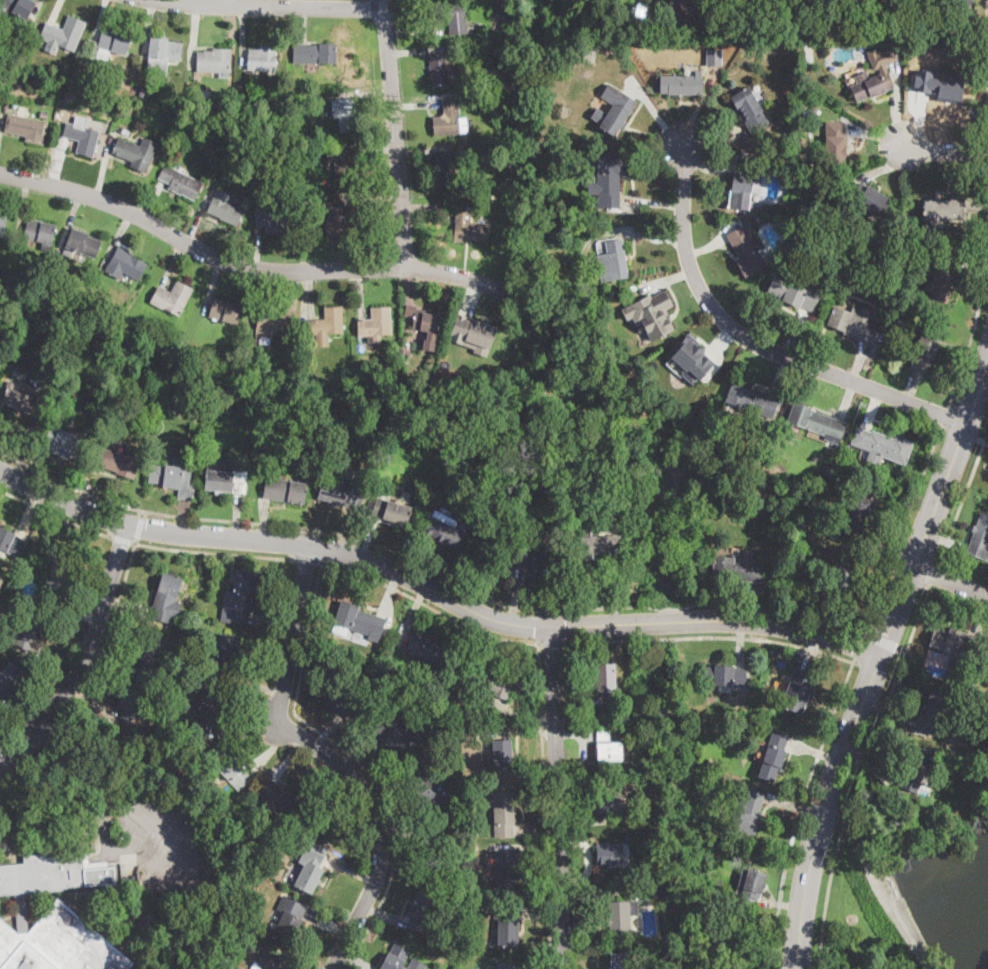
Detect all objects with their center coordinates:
building: (608, 0)
road: (182, 1)
building: (834, 1)
road: (233, 2)
building: (691, 2)
building: (948, 2)
road: (270, 4)
building: (17, 7)
building: (919, 7)
road: (36, 11)
road: (55, 11)
building: (453, 17)
road: (100, 22)
road: (303, 24)
building: (929, 27)
road: (149, 28)
building: (549, 30)
building: (718, 33)
road: (193, 34)
road: (416, 34)
building: (63, 35)
building: (906, 35)
road: (242, 37)
building: (112, 43)
building: (576, 45)
building: (592, 46)
road: (416, 50)
building: (314, 53)
building: (163, 56)
building: (263, 58)
building: (714, 58)
building: (214, 61)
building: (63, 67)
building: (441, 68)
building: (873, 76)
building: (682, 84)
building: (942, 86)
building: (142, 91)
building: (202, 95)
road: (375, 102)
building: (5, 103)
road: (895, 103)
road: (416, 105)
road: (699, 107)
building: (750, 110)
building: (44, 113)
building: (346, 114)
building: (618, 114)
road: (657, 116)
building: (448, 119)
road: (914, 119)
road: (2, 120)
building: (272, 122)
building: (27, 128)
building: (126, 132)
road: (394, 134)
building: (81, 136)
road: (877, 136)
road: (713, 141)
building: (834, 145)
road: (428, 146)
building: (498, 147)
road: (946, 149)
building: (289, 150)
road: (62, 151)
road: (378, 151)
building: (136, 153)
road: (105, 164)
building: (343, 164)
road: (702, 165)
road: (884, 167)
building: (445, 170)
building: (609, 180)
building: (181, 182)
building: (743, 183)
building: (339, 196)
building: (870, 199)
road: (375, 200)
road: (152, 201)
road: (653, 203)
road: (21, 206)
road: (978, 207)
building: (225, 208)
building: (944, 209)
road: (431, 210)
building: (300, 215)
road: (72, 218)
building: (273, 220)
road: (196, 222)
building: (2, 223)
building: (343, 223)
building: (469, 229)
building: (40, 232)
road: (119, 234)
road: (643, 234)
building: (83, 242)
road: (706, 247)
road: (258, 248)
building: (745, 250)
building: (613, 261)
building: (125, 264)
road: (176, 264)
road: (245, 265)
road: (973, 269)
road: (668, 279)
building: (942, 280)
road: (212, 285)
building: (54, 288)
road: (311, 291)
road: (360, 293)
building: (794, 293)
road: (407, 295)
road: (471, 295)
building: (172, 297)
road: (258, 297)
building: (225, 310)
building: (652, 312)
road: (975, 320)
building: (328, 322)
building: (376, 322)
building: (272, 323)
building: (426, 323)
building: (854, 323)
building: (113, 327)
building: (473, 331)
building: (120, 332)
road: (796, 333)
road: (754, 343)
building: (925, 346)
building: (390, 352)
road: (718, 353)
building: (691, 356)
road: (859, 363)
building: (230, 374)
road: (781, 375)
building: (424, 379)
building: (69, 384)
road: (912, 386)
building: (176, 396)
road: (847, 398)
building: (20, 399)
building: (752, 401)
road: (872, 408)
road: (946, 415)
building: (816, 423)
road: (975, 436)
building: (309, 439)
building: (64, 444)
building: (882, 446)
road: (16, 454)
building: (118, 462)
road: (38, 467)
building: (173, 476)
building: (225, 481)
road: (85, 484)
building: (285, 490)
building: (341, 492)
road: (961, 498)
road: (29, 510)
building: (397, 512)
road: (143, 514)
road: (55, 516)
road: (184, 516)
road: (237, 516)
building: (856, 518)
road: (263, 520)
road: (139, 528)
road: (346, 529)
road: (902, 529)
building: (443, 531)
road: (369, 536)
building: (980, 539)
road: (944, 540)
road: (123, 541)
building: (11, 542)
road: (135, 542)
building: (592, 543)
road: (891, 548)
building: (481, 553)
building: (535, 559)
road: (309, 561)
road: (129, 562)
building: (738, 567)
road: (429, 570)
road: (444, 573)
building: (59, 574)
road: (933, 575)
road: (951, 580)
building: (836, 583)
road: (614, 586)
road: (434, 589)
road: (389, 590)
road: (516, 597)
building: (167, 598)
building: (240, 598)
road: (82, 602)
road: (130, 603)
road: (756, 604)
road: (429, 606)
road: (976, 610)
road: (410, 617)
road: (824, 618)
building: (357, 621)
road: (274, 627)
building: (26, 631)
road: (711, 638)
building: (198, 639)
road: (882, 640)
road: (606, 642)
road: (742, 642)
road: (552, 644)
road: (859, 645)
building: (953, 645)
building: (427, 648)
road: (902, 650)
road: (812, 652)
building: (148, 653)
building: (227, 655)
road: (87, 657)
road: (111, 658)
road: (56, 659)
road: (876, 659)
building: (986, 666)
building: (724, 676)
building: (9, 678)
building: (605, 679)
building: (381, 680)
building: (387, 680)
building: (482, 681)
building: (962, 682)
road: (258, 687)
building: (797, 692)
building: (341, 696)
building: (132, 700)
road: (94, 701)
building: (163, 701)
building: (207, 709)
road: (888, 711)
building: (936, 711)
road: (518, 715)
road: (21, 716)
road: (249, 726)
road: (325, 730)
road: (522, 732)
road: (573, 734)
road: (51, 735)
building: (396, 735)
building: (159, 743)
building: (692, 743)
road: (269, 748)
building: (609, 748)
road: (359, 750)
road: (816, 750)
building: (501, 752)
road: (331, 755)
road: (290, 757)
building: (774, 757)
road: (354, 761)
road: (29, 762)
road: (584, 762)
building: (228, 767)
building: (918, 767)
road: (869, 770)
road: (860, 773)
road: (92, 777)
road: (5, 781)
road: (388, 787)
building: (425, 793)
road: (556, 797)
building: (282, 798)
building: (612, 802)
road: (543, 807)
building: (947, 807)
road: (796, 808)
road: (800, 810)
building: (751, 812)
building: (502, 813)
road: (6, 817)
road: (589, 818)
road: (12, 821)
road: (536, 825)
road: (401, 830)
building: (278, 834)
building: (625, 837)
road: (861, 841)
road: (523, 846)
building: (432, 849)
road: (201, 851)
building: (612, 855)
road: (7, 856)
road: (587, 859)
building: (311, 867)
road: (353, 869)
building: (505, 872)
park: (913, 879)
building: (752, 884)
building: (659, 890)
road: (600, 893)
building: (160, 901)
road: (781, 904)
building: (472, 907)
building: (421, 911)
dam: (901, 911)
road: (539, 913)
road: (385, 914)
building: (53, 916)
building: (621, 918)
building: (288, 920)
road: (327, 925)
building: (507, 926)
road: (901, 928)
building: (243, 940)
building: (400, 958)
road: (356, 960)
building: (621, 960)
building: (272, 961)
building: (507, 966)

